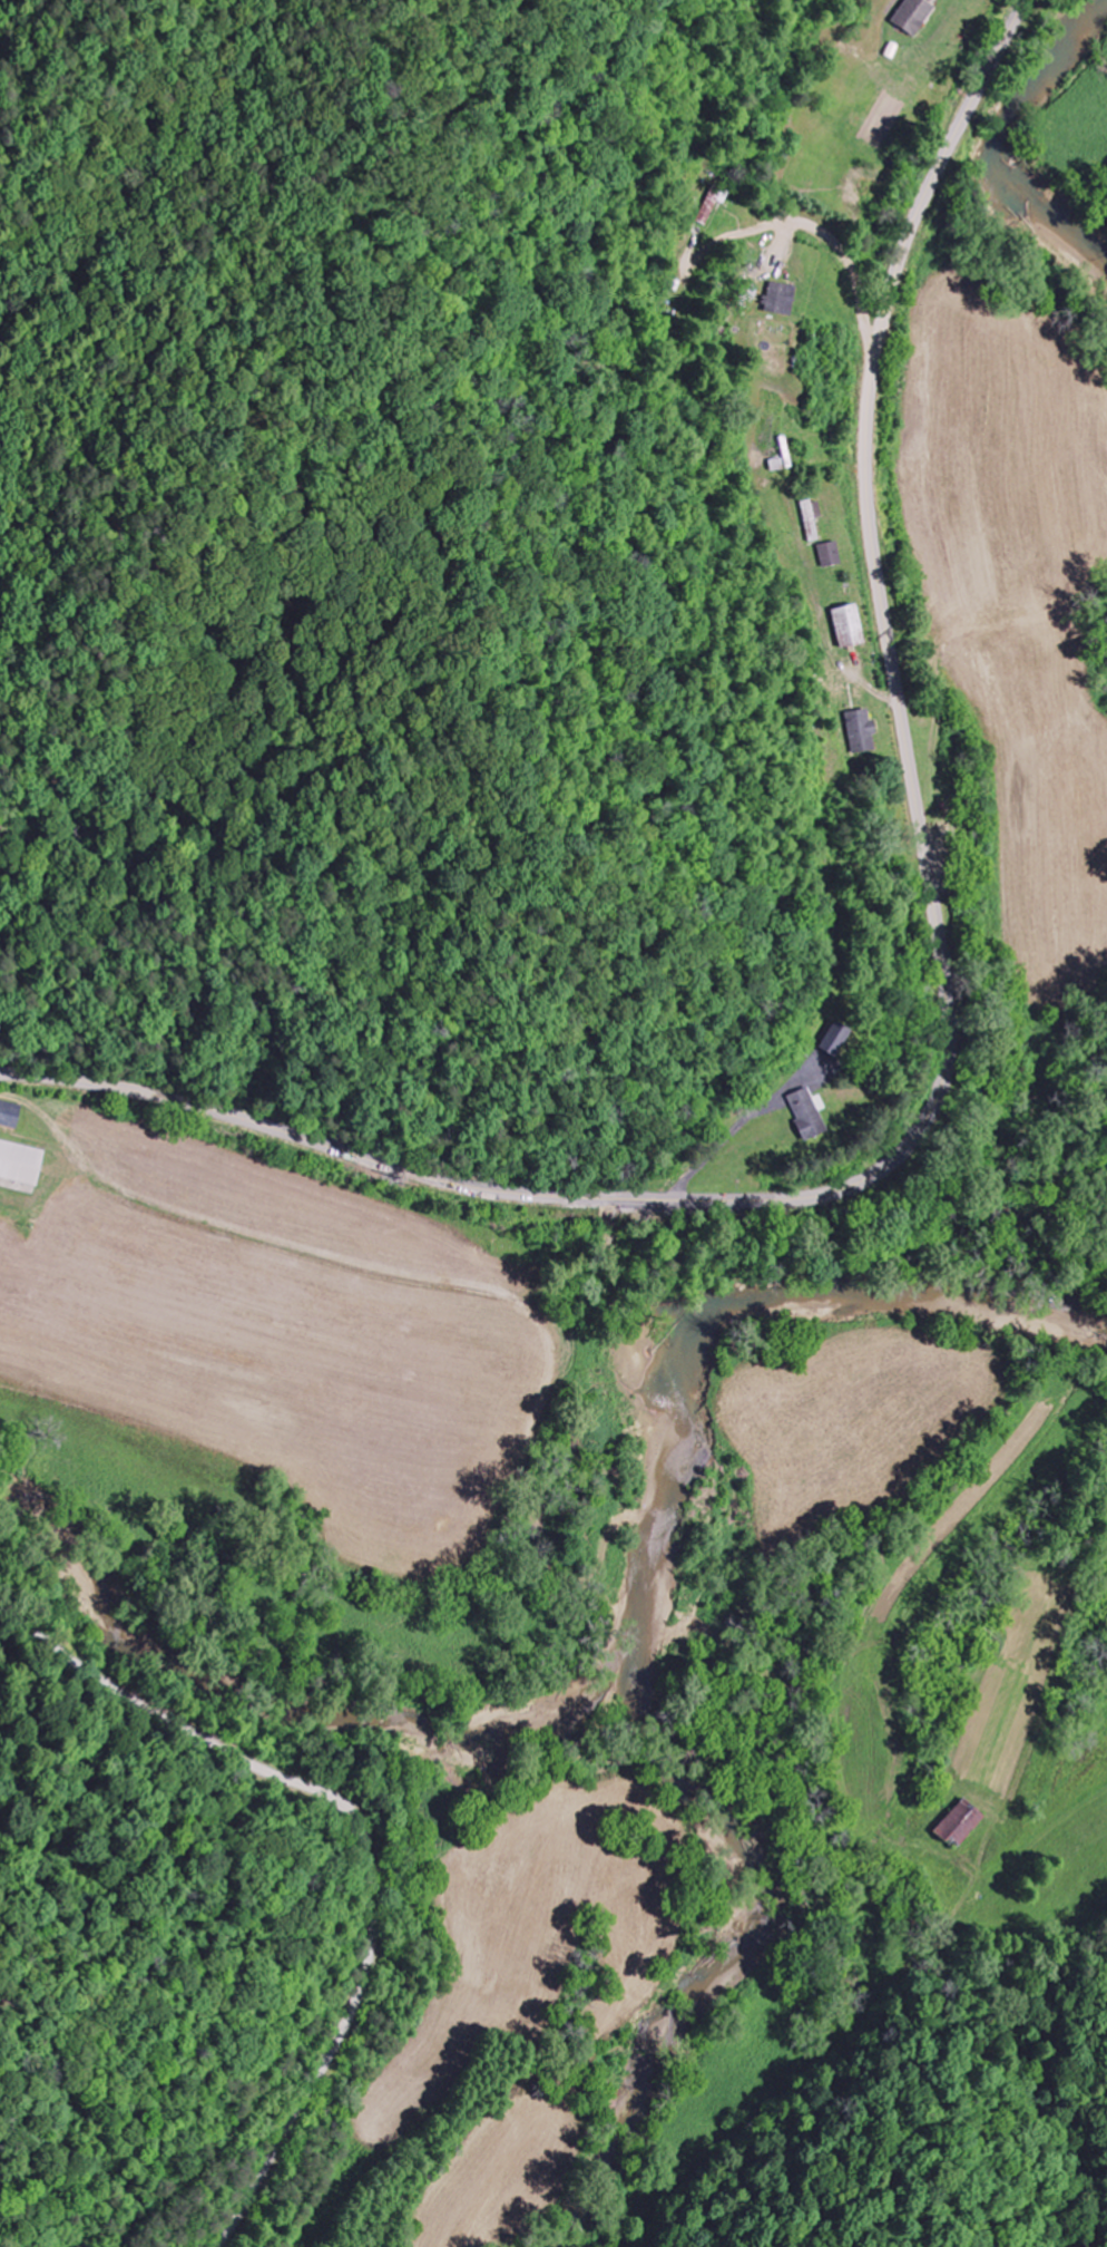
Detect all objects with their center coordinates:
building: (912, 14)
road: (949, 1025)
building: (10, 1112)
building: (805, 1112)
building: (21, 1161)
building: (962, 1820)
road: (364, 1842)

